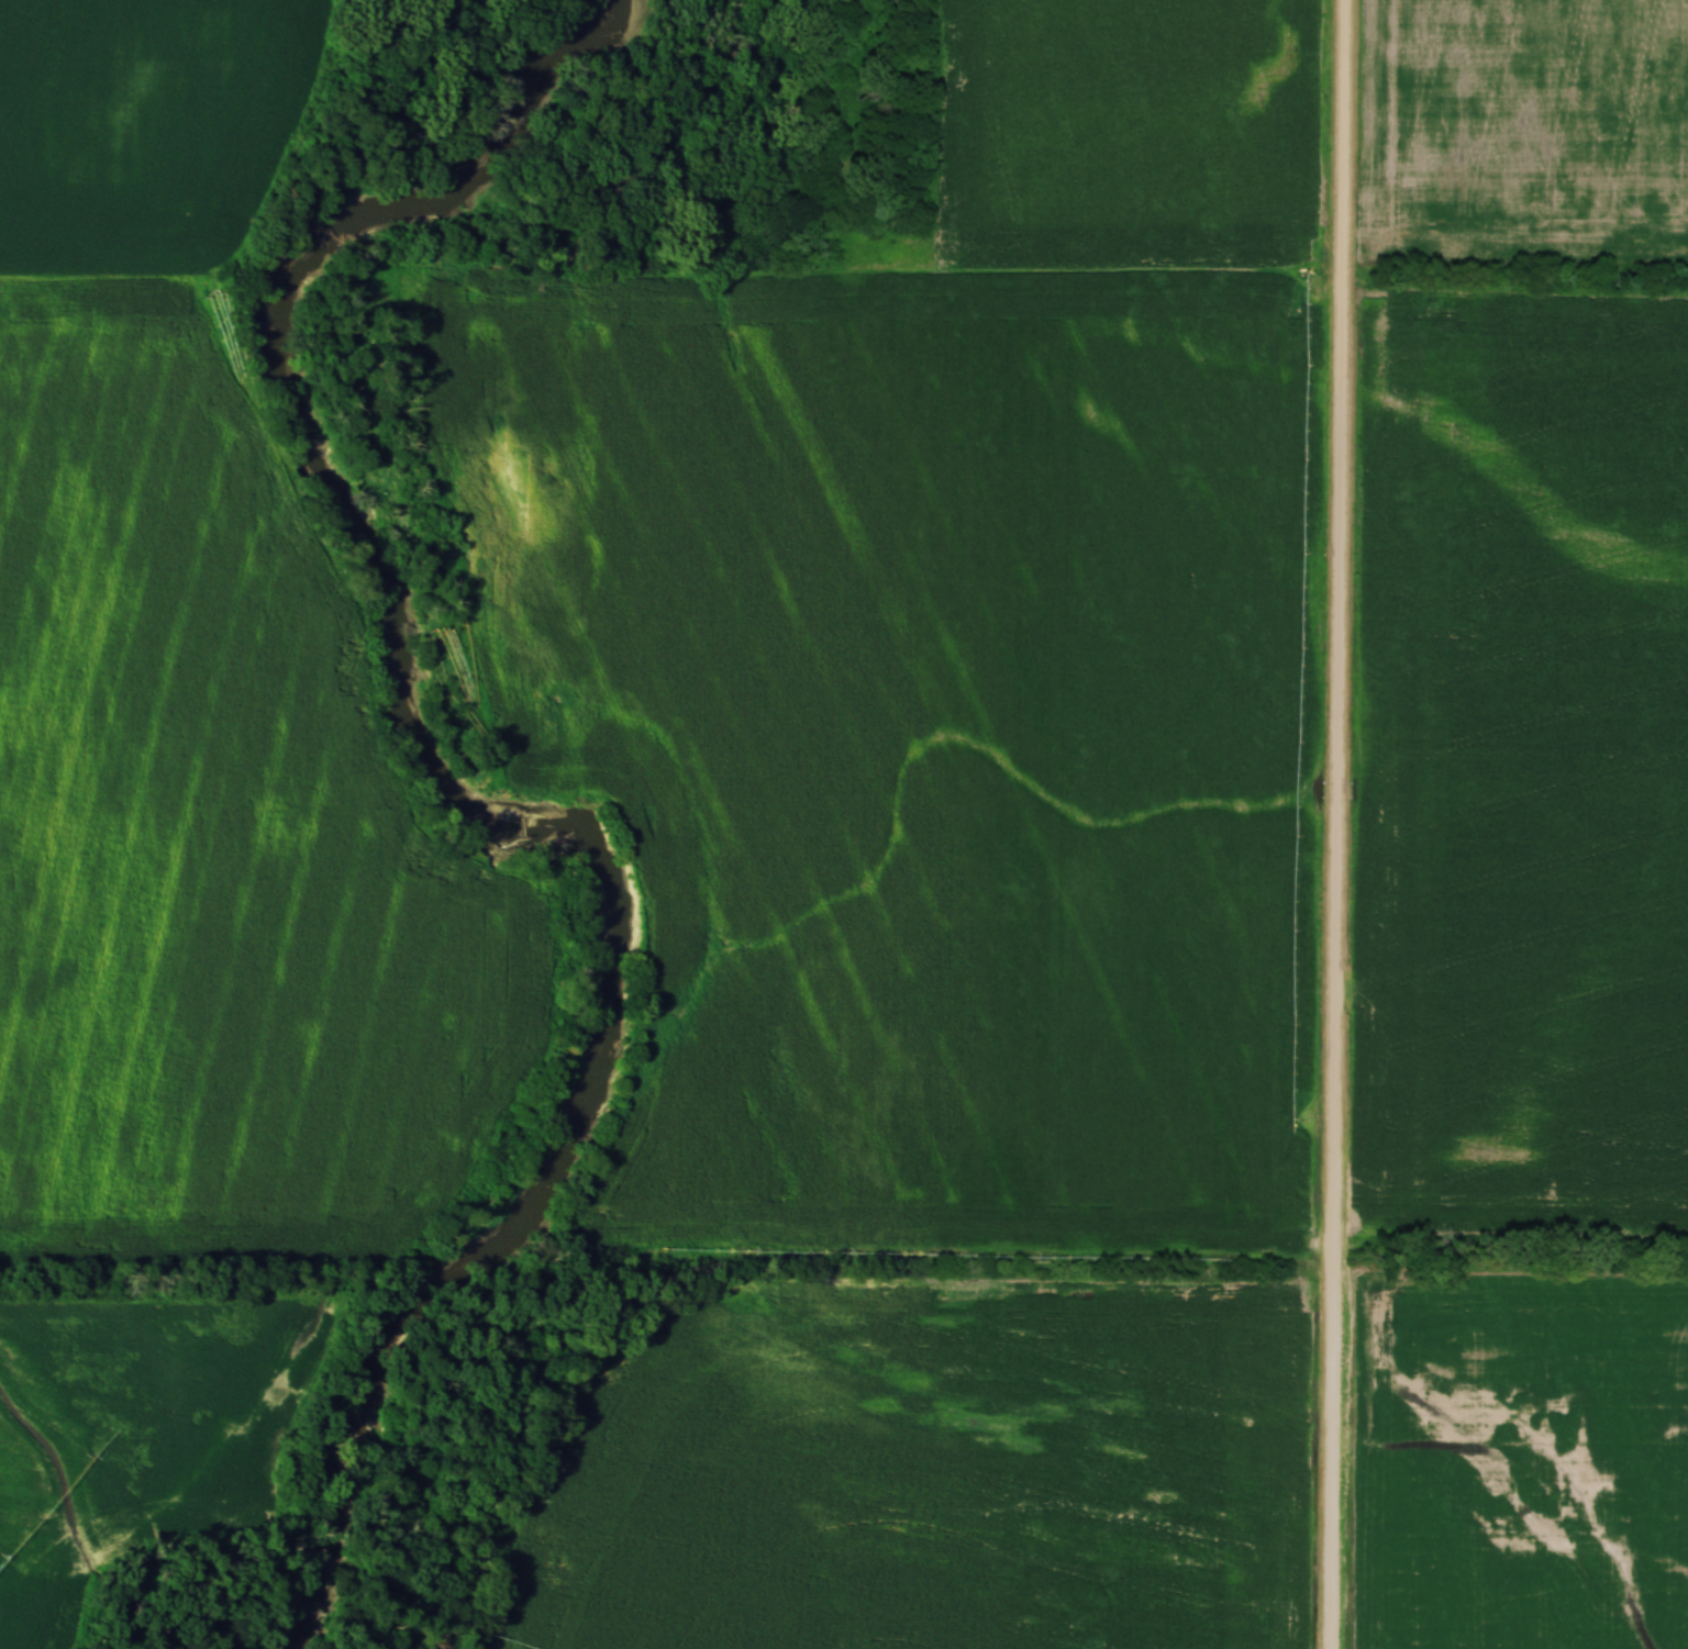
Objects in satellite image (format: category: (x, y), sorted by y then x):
road: (1337, 824)

